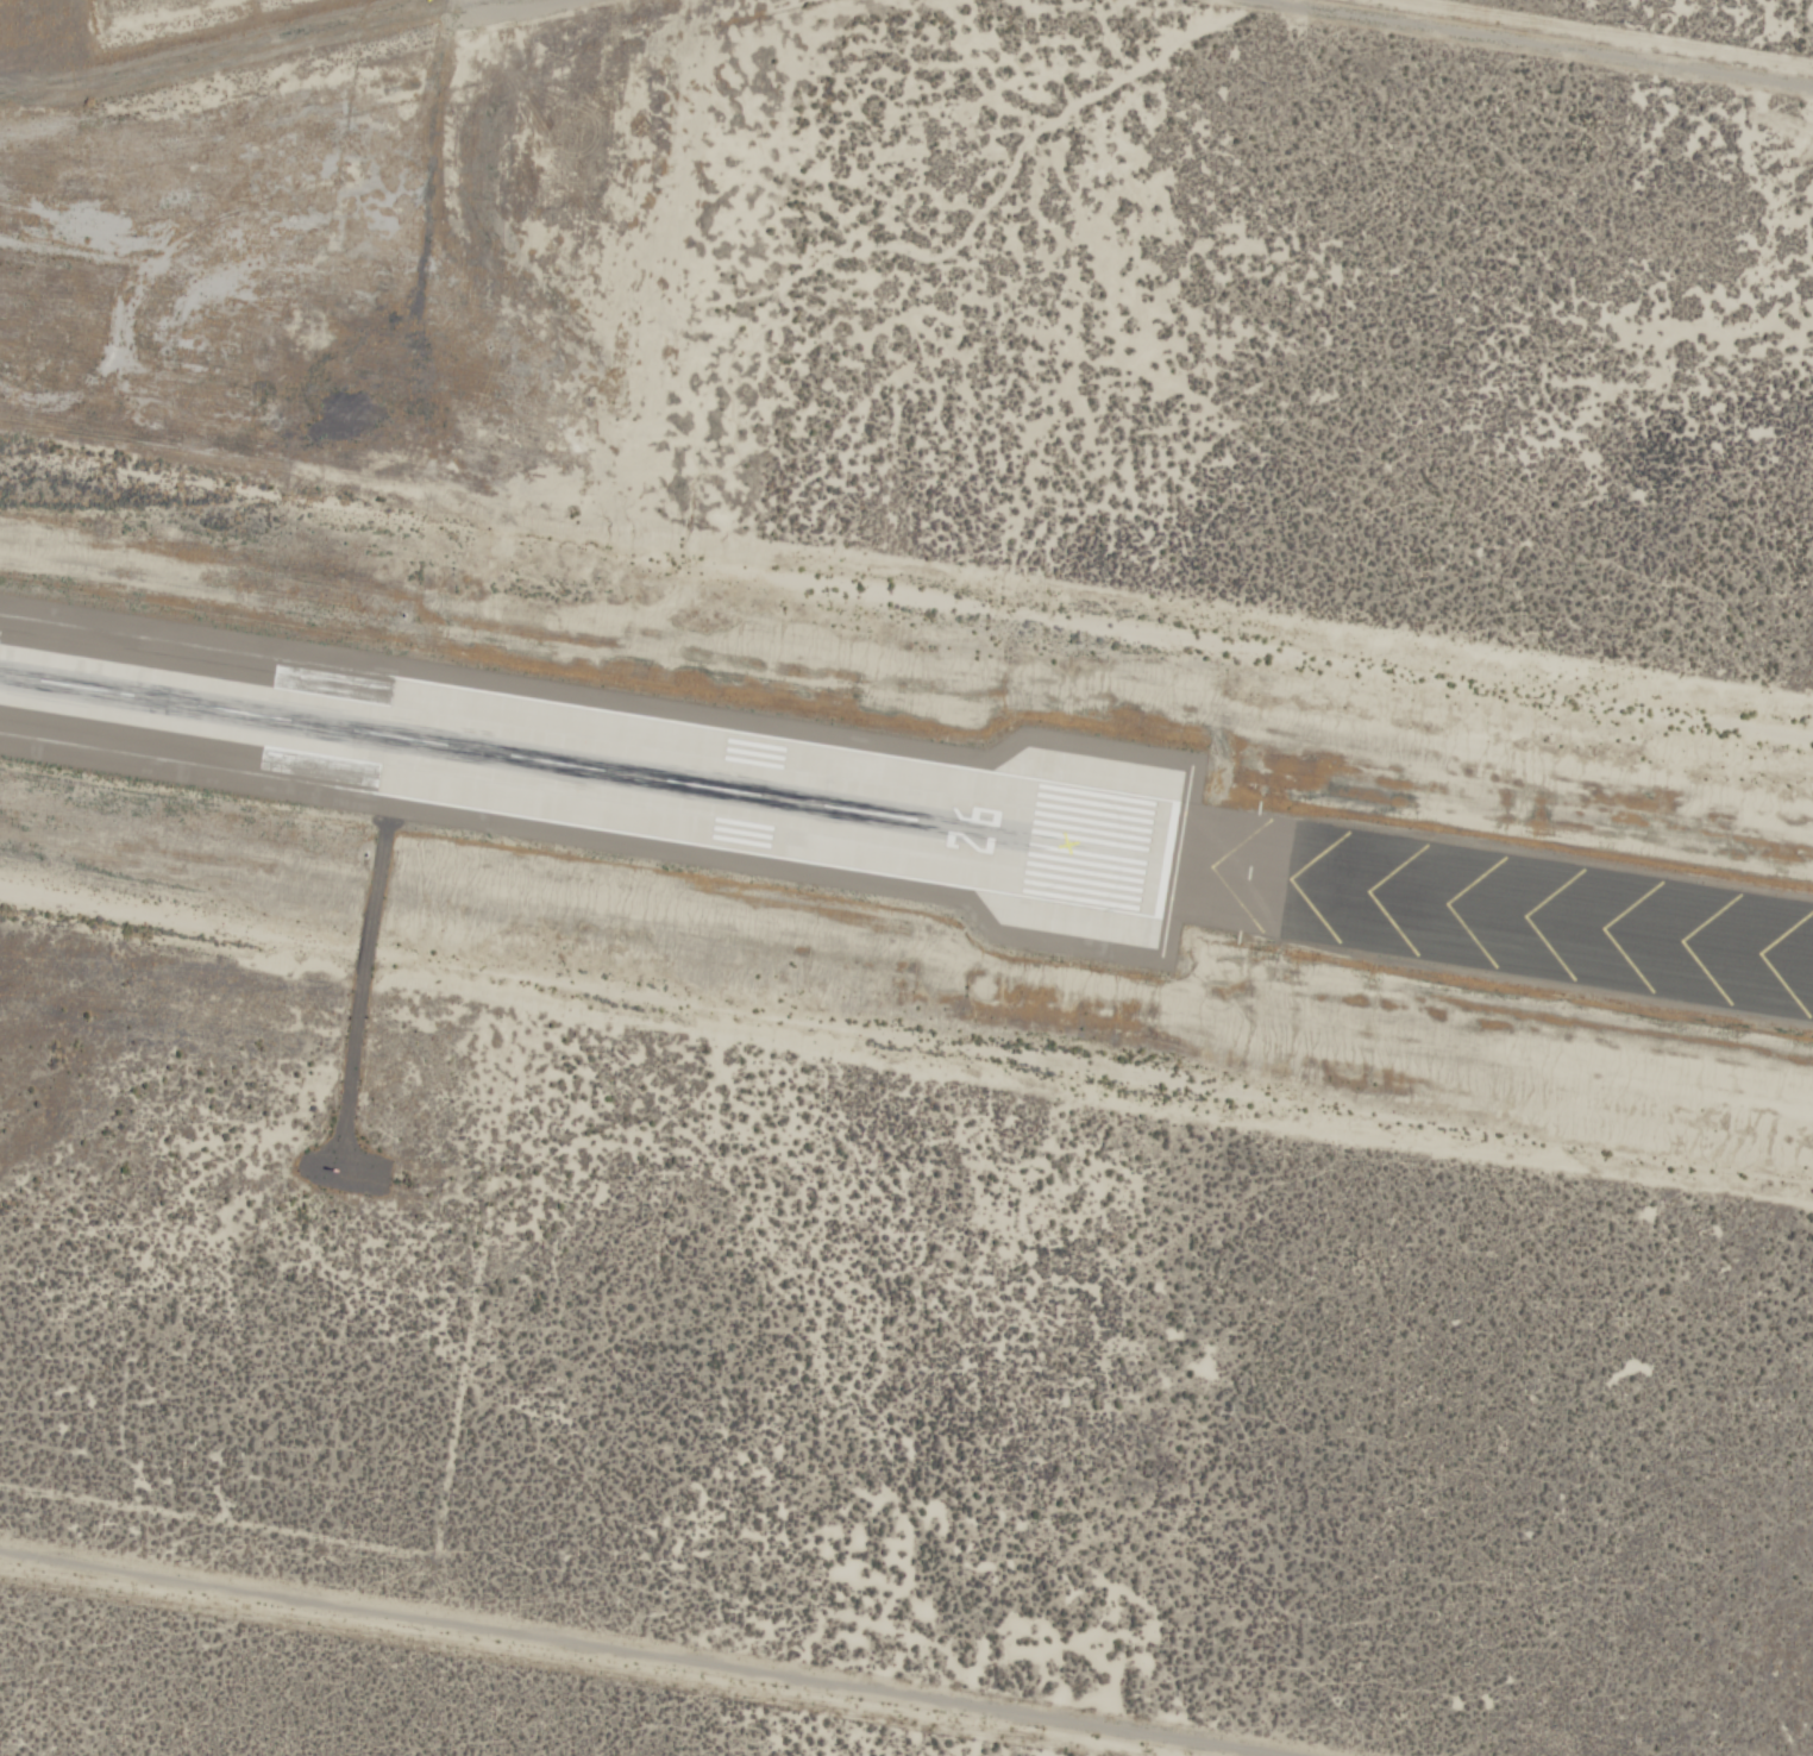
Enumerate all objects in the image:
airport runway: (906, 822)
airport: (906, 878)

